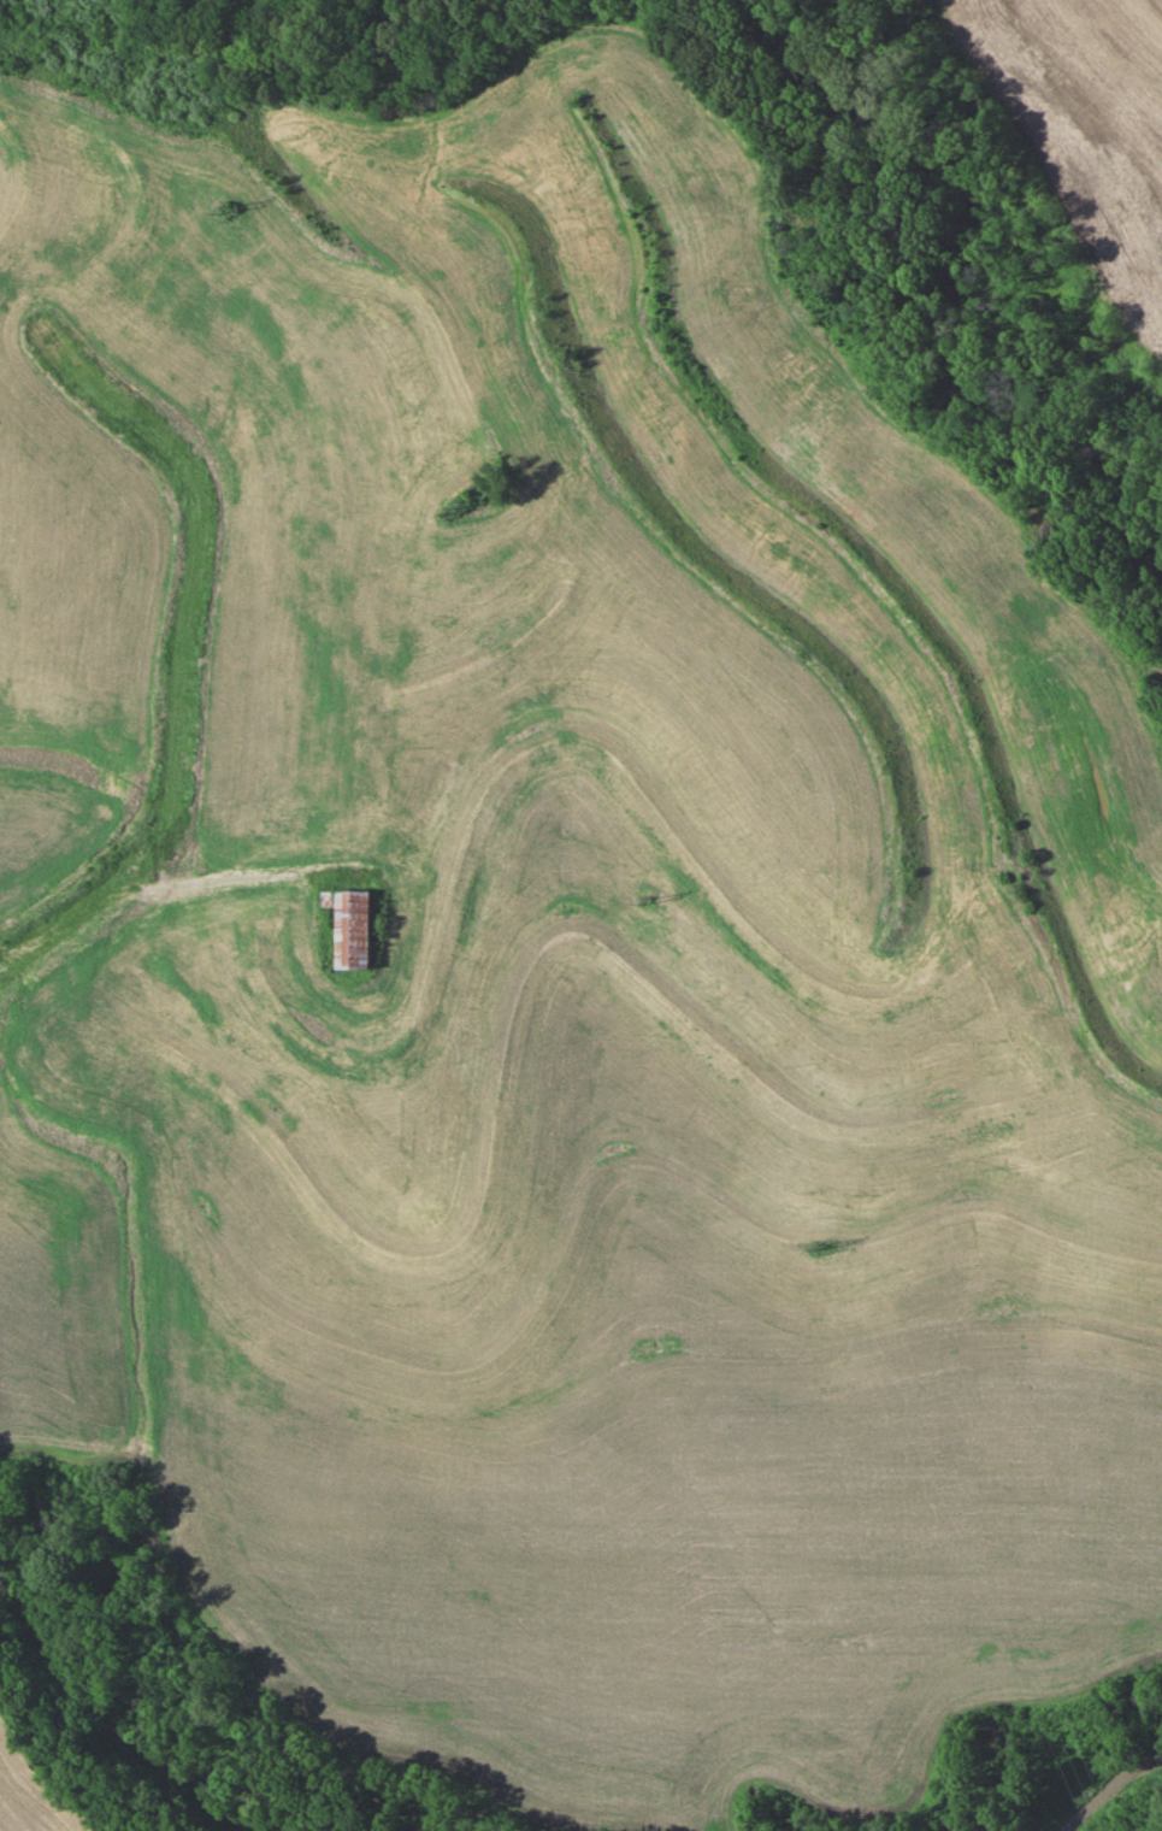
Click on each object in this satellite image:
power tower: (229, 211)
power tower: (456, 508)
power tower: (642, 907)
building: (348, 925)
road: (71, 997)
road: (137, 1072)
power tower: (820, 1250)

